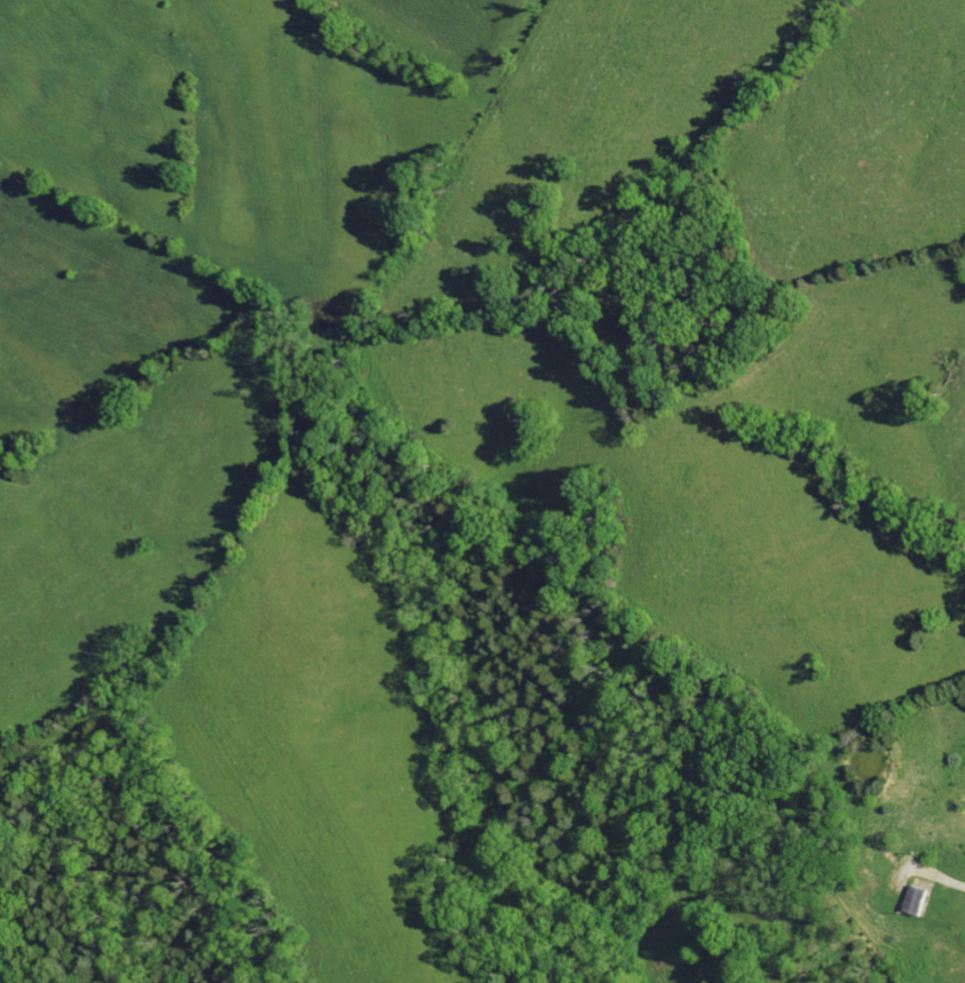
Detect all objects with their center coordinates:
road: (943, 881)
building: (915, 900)

